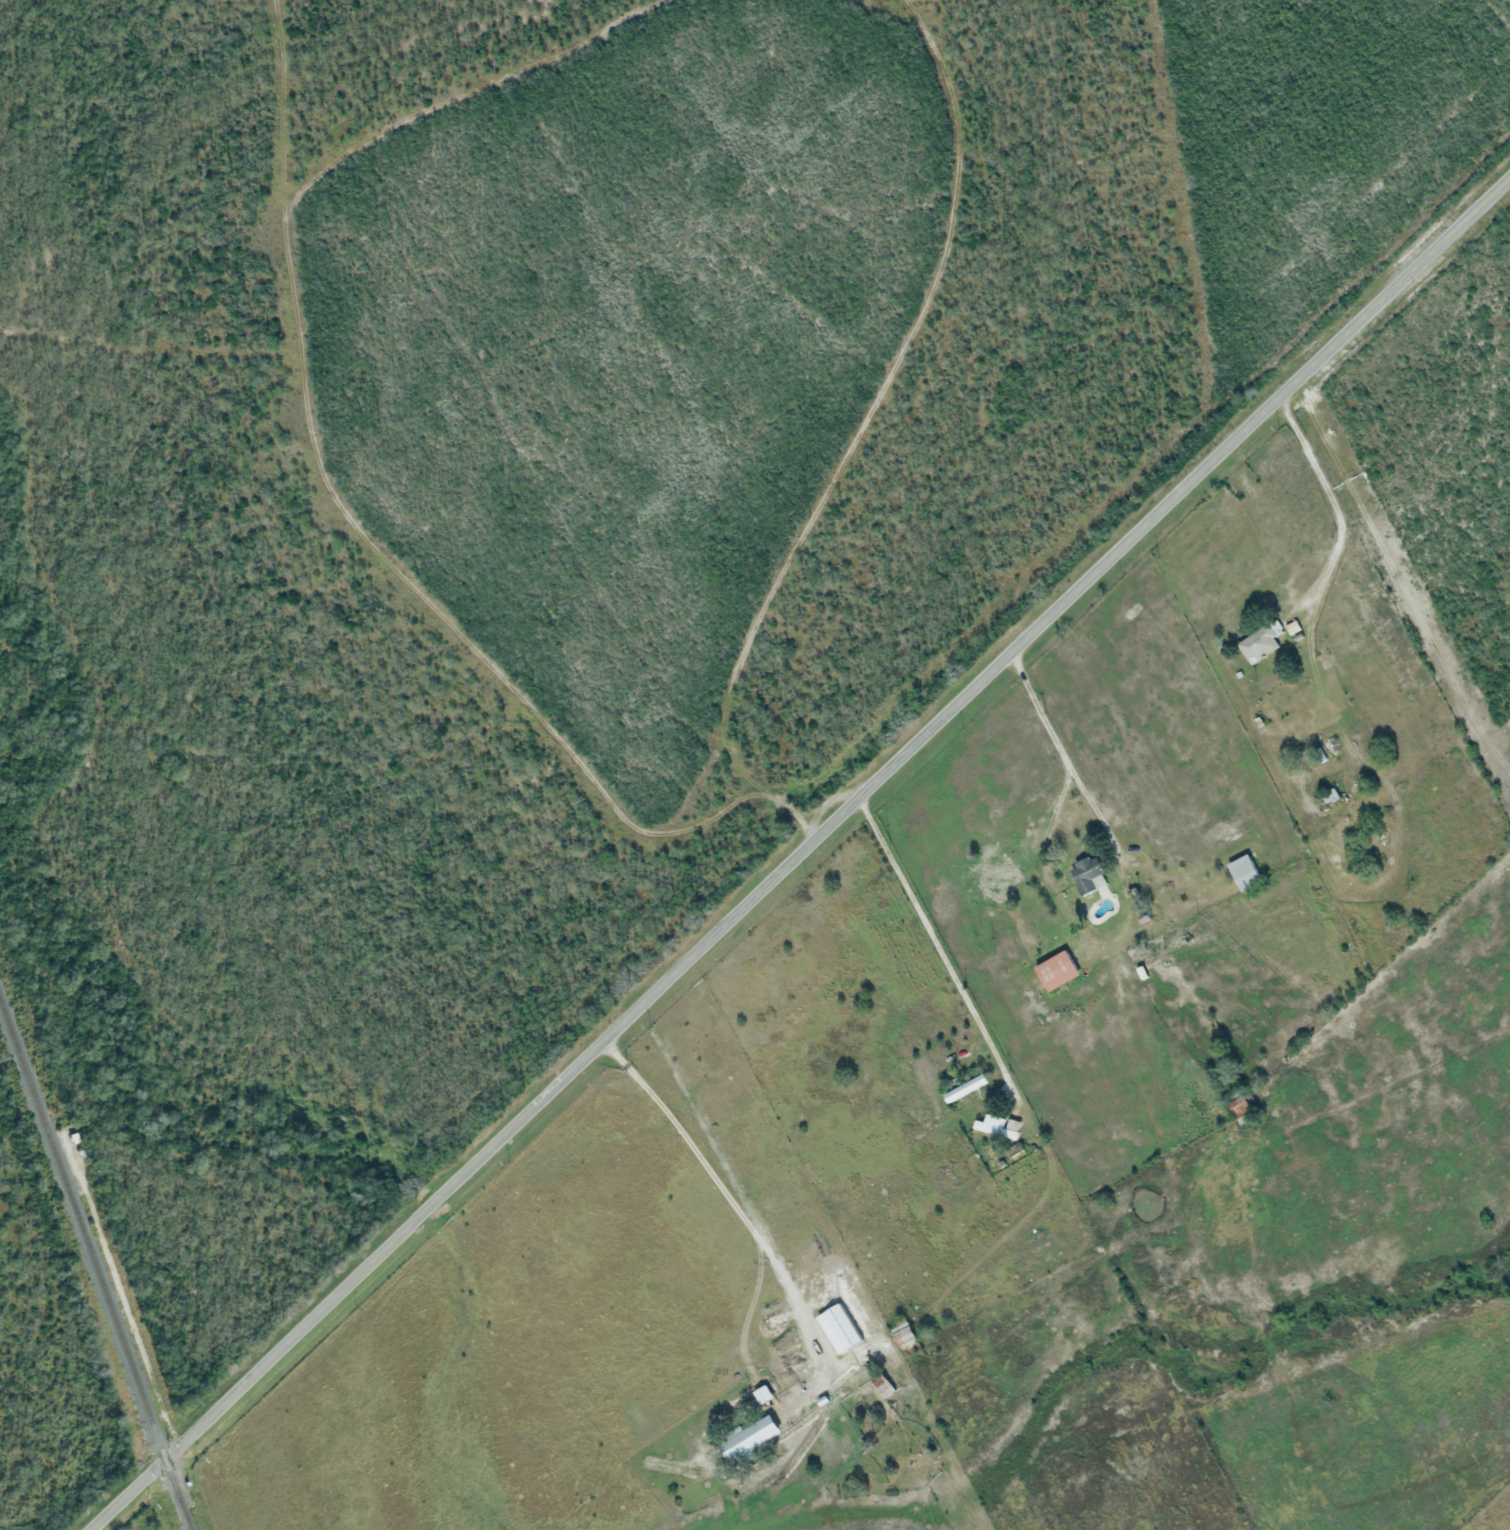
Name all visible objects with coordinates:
road: (831, 449)
building: (1260, 643)
building: (1331, 794)
road: (798, 851)
building: (1247, 873)
building: (1087, 875)
building: (1001, 886)
building: (1059, 969)
road: (968, 992)
building: (968, 1089)
building: (1241, 1105)
building: (1004, 1126)
road: (733, 1214)
railway: (93, 1266)
building: (908, 1337)
building: (885, 1386)
building: (747, 1441)

